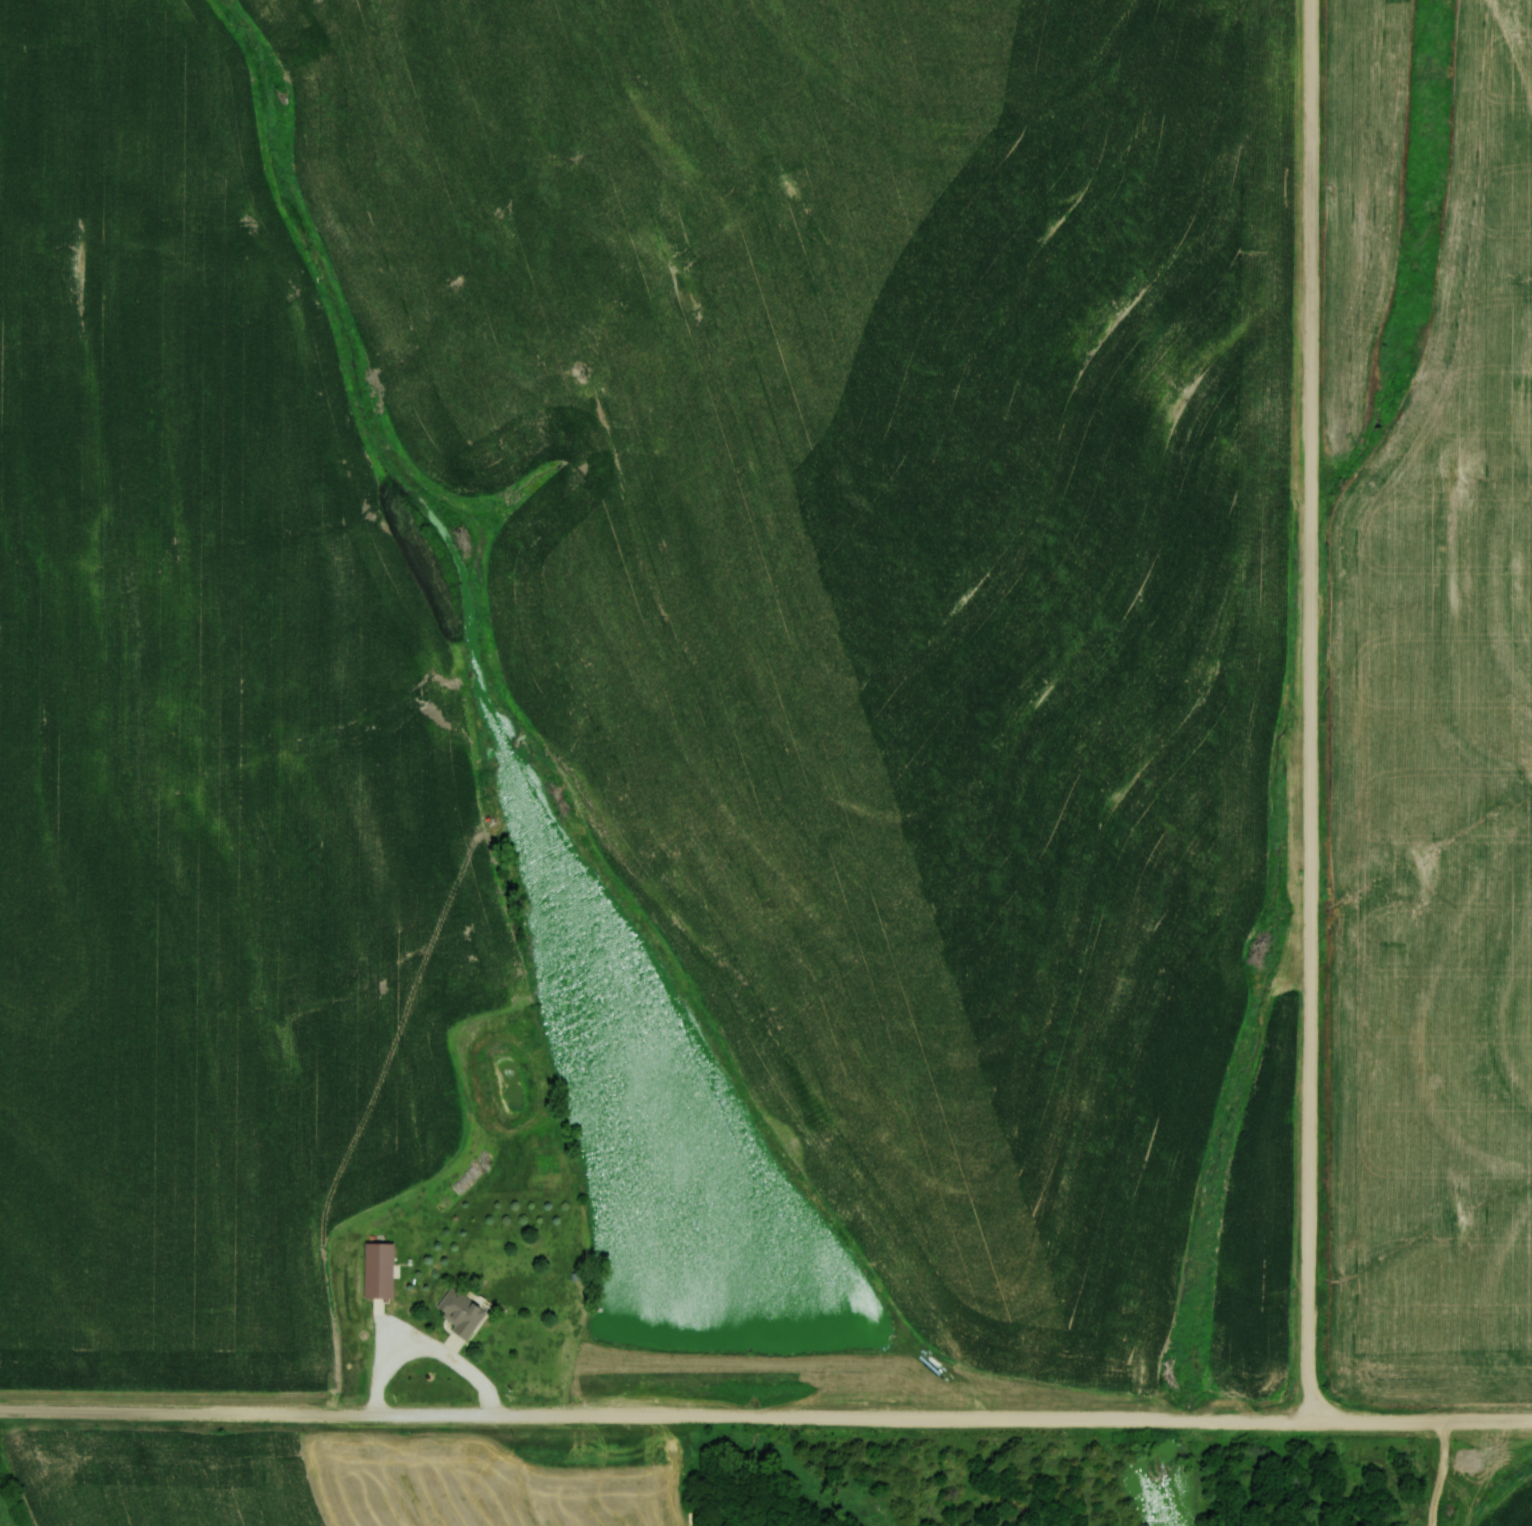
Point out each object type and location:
road: (1313, 712)
building: (383, 1257)
building: (459, 1313)
road: (765, 1416)
road: (1433, 1474)

